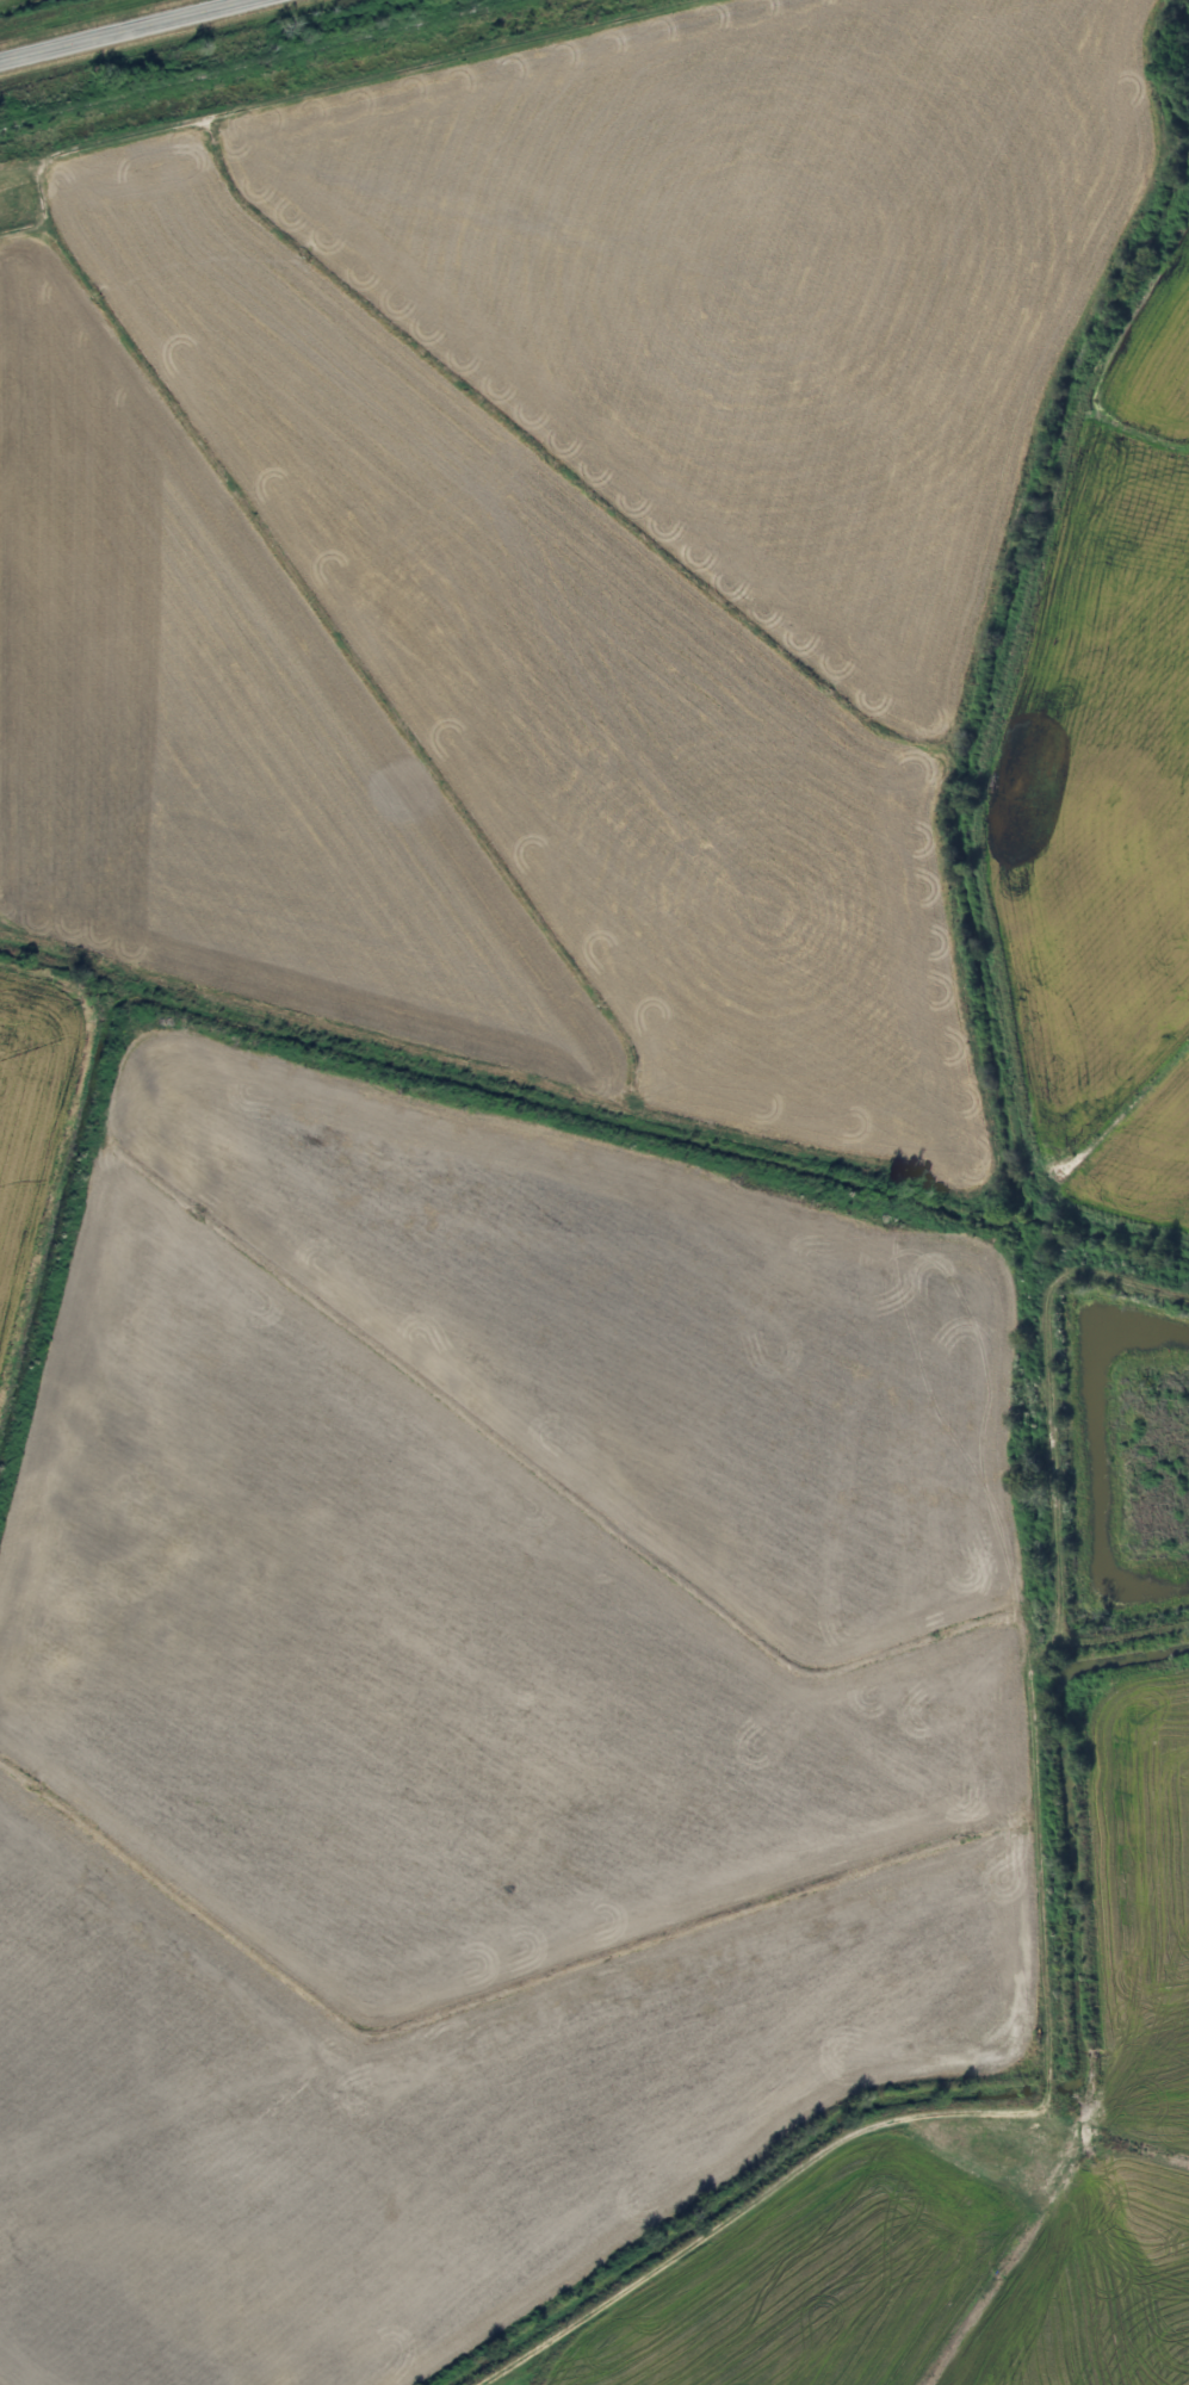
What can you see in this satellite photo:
road: (125, 30)
railway: (258, 62)
road: (751, 2201)

